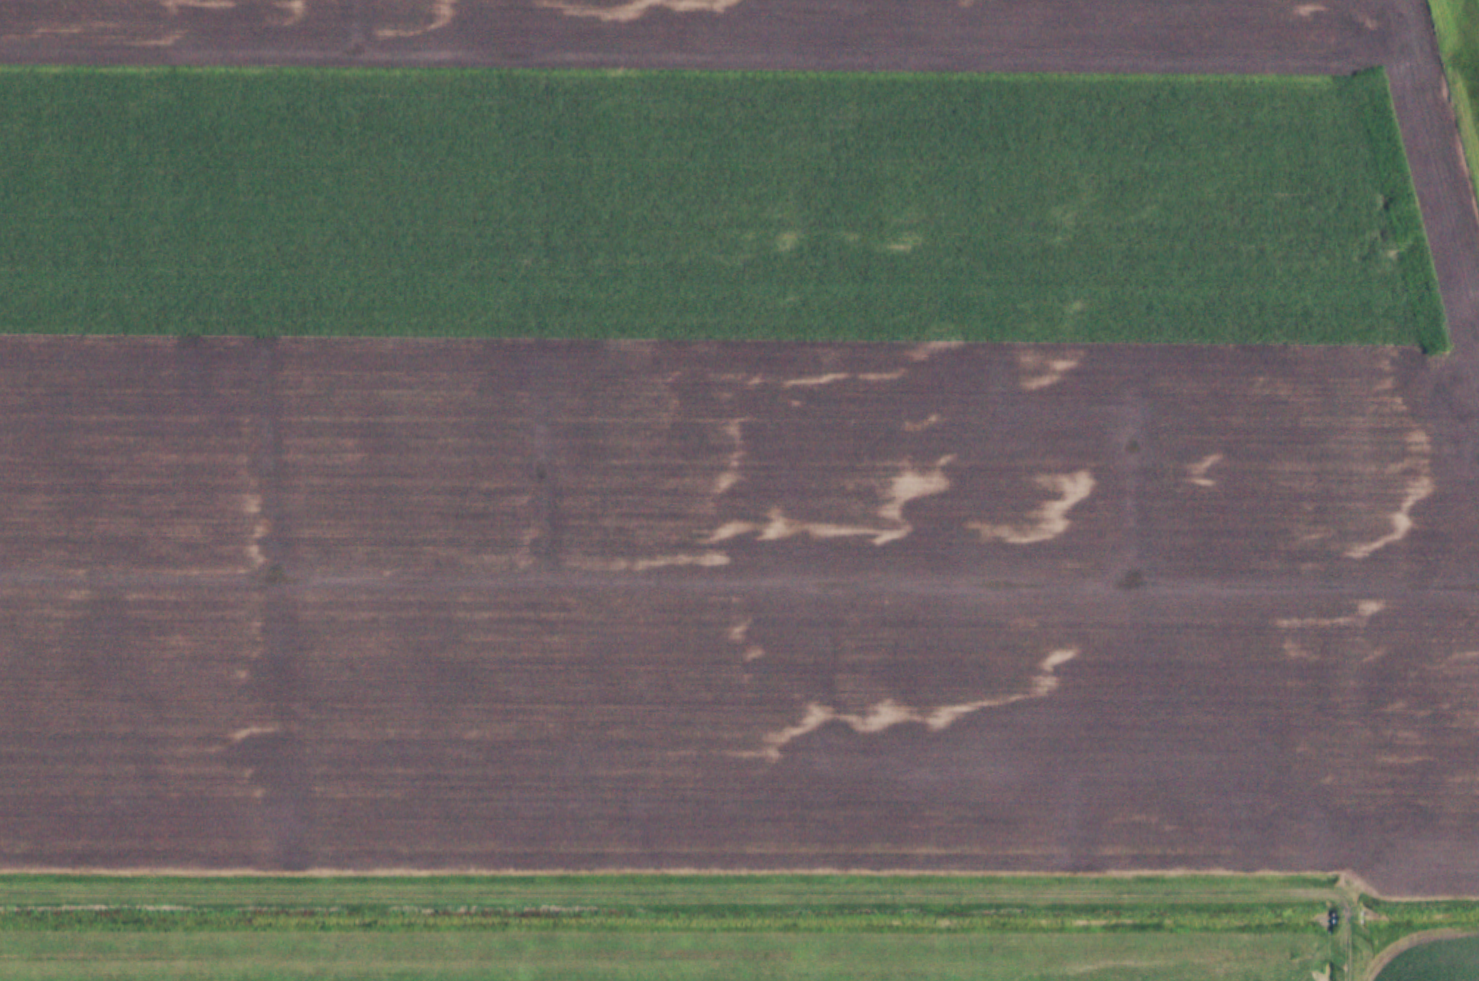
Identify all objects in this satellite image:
road: (671, 899)
road: (1342, 931)

